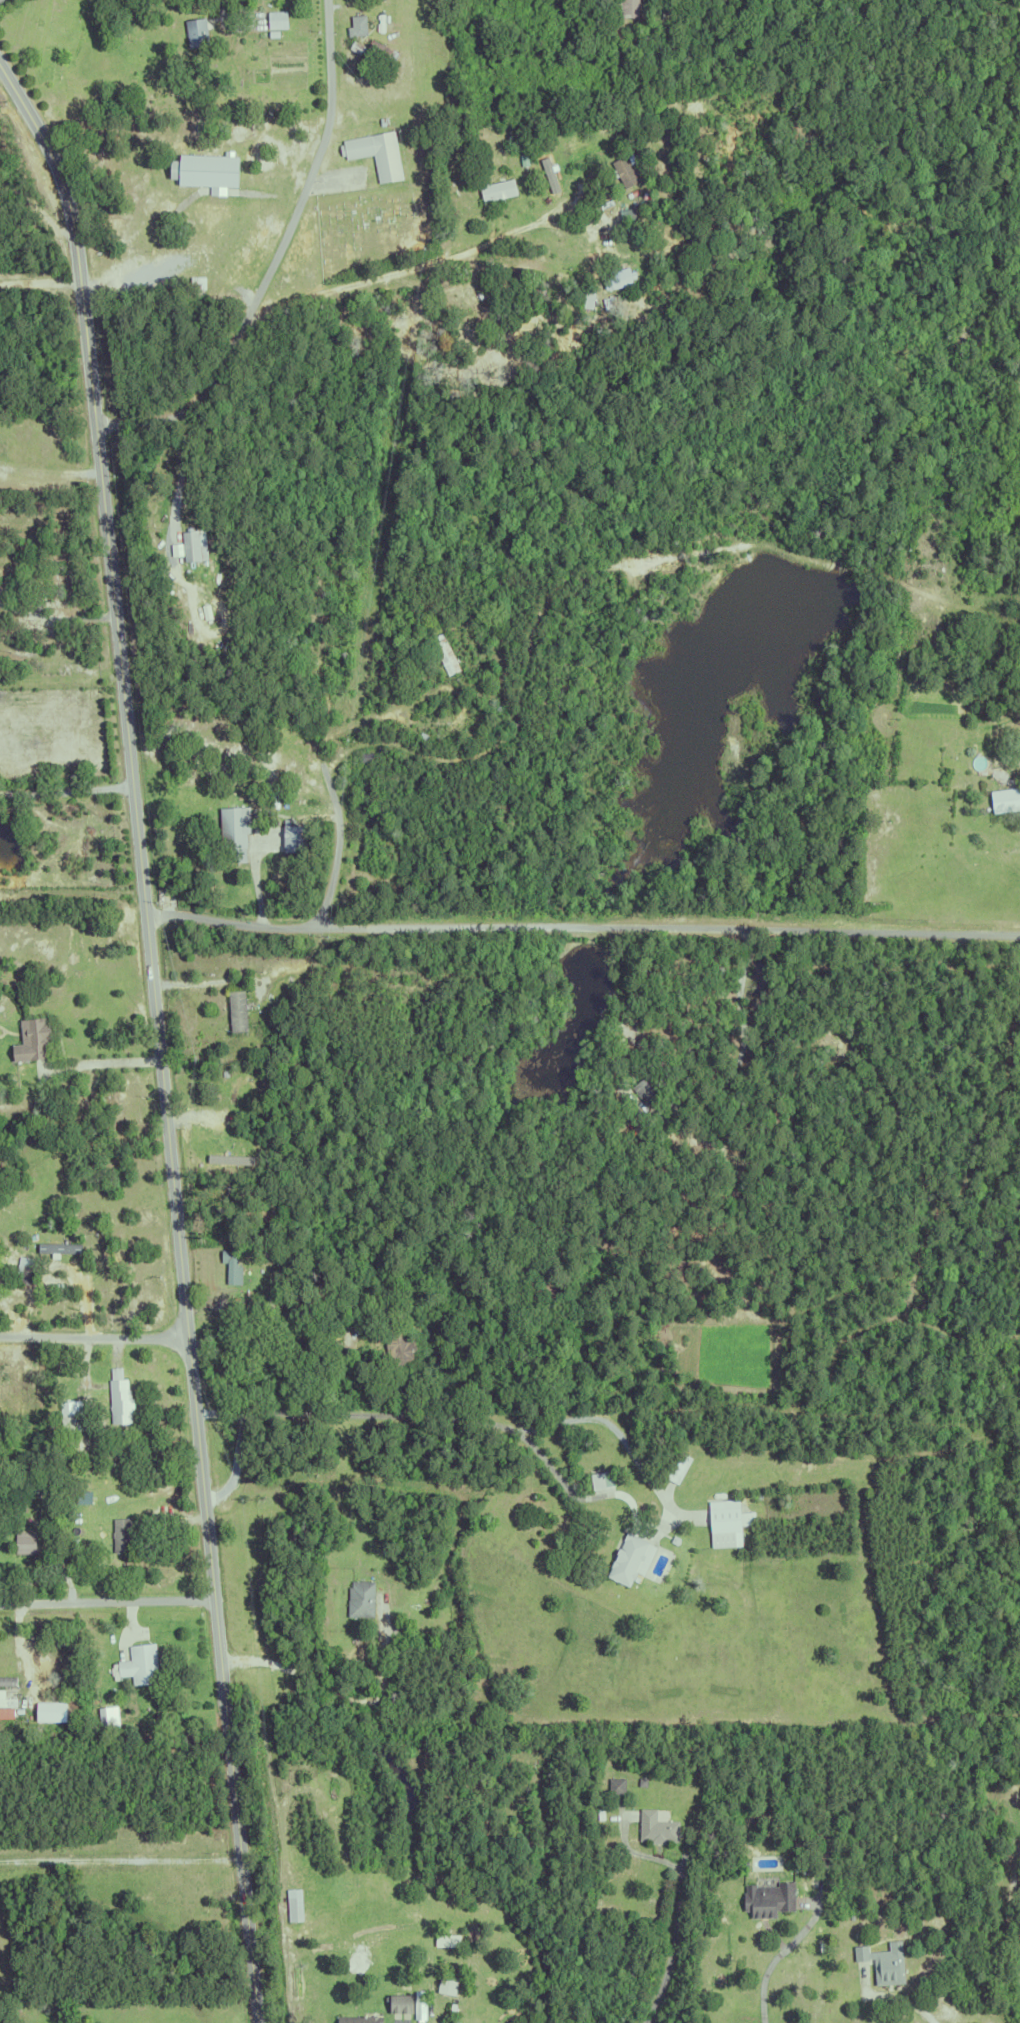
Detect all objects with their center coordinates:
building: (626, 7)
building: (276, 18)
building: (358, 22)
building: (593, 26)
building: (196, 31)
building: (280, 31)
building: (375, 52)
building: (382, 120)
building: (378, 153)
building: (208, 170)
building: (624, 170)
building: (548, 171)
building: (494, 188)
building: (759, 235)
road: (459, 252)
road: (277, 260)
building: (617, 277)
building: (196, 281)
road: (41, 288)
road: (178, 468)
road: (51, 477)
building: (935, 523)
building: (193, 544)
building: (475, 607)
road: (57, 617)
building: (443, 654)
building: (498, 709)
road: (334, 730)
building: (422, 736)
building: (304, 738)
building: (364, 757)
building: (373, 772)
road: (66, 788)
building: (365, 792)
building: (1003, 800)
building: (233, 827)
building: (300, 840)
building: (366, 850)
road: (336, 854)
road: (256, 883)
building: (398, 888)
road: (74, 891)
building: (350, 902)
road: (583, 929)
building: (235, 1006)
building: (30, 1034)
road: (158, 1035)
road: (105, 1061)
building: (648, 1089)
building: (233, 1157)
building: (63, 1248)
building: (230, 1262)
building: (22, 1267)
building: (278, 1285)
road: (83, 1307)
road: (95, 1340)
building: (399, 1343)
building: (22, 1372)
building: (119, 1398)
building: (76, 1408)
road: (569, 1417)
building: (64, 1427)
road: (237, 1464)
building: (65, 1475)
building: (600, 1476)
building: (723, 1519)
building: (121, 1531)
building: (673, 1537)
building: (24, 1540)
building: (626, 1556)
building: (359, 1596)
road: (108, 1604)
building: (139, 1661)
building: (10, 1682)
road: (334, 1689)
building: (9, 1703)
building: (93, 1706)
building: (112, 1721)
building: (641, 1779)
building: (615, 1783)
building: (854, 1801)
building: (811, 1807)
building: (599, 1811)
building: (655, 1826)
road: (121, 1861)
building: (317, 1891)
building: (767, 1897)
building: (293, 1902)
road: (676, 1924)
building: (451, 1941)
road: (776, 1957)
building: (882, 1960)
building: (451, 1985)
building: (1, 1991)
road: (906, 2002)
building: (451, 2006)
building: (412, 2007)
building: (358, 2018)
building: (449, 2020)

